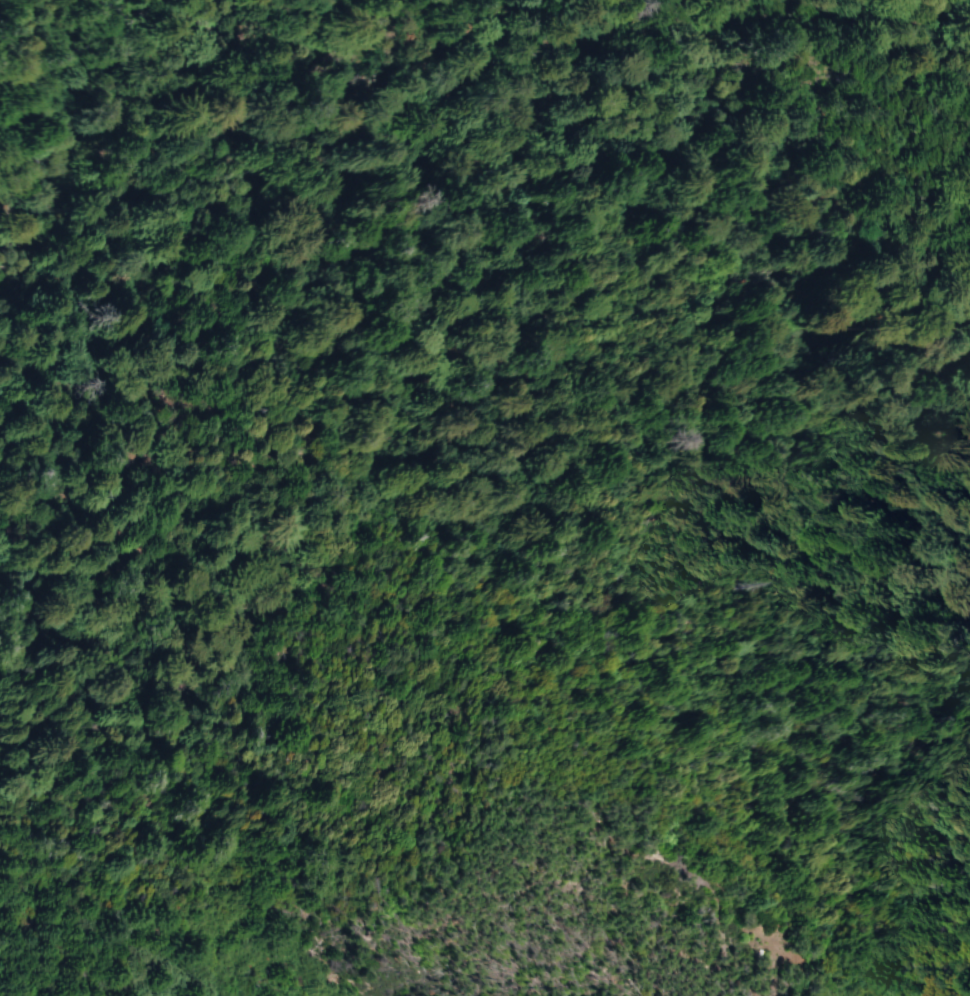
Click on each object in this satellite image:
road: (718, 915)
building: (780, 939)

